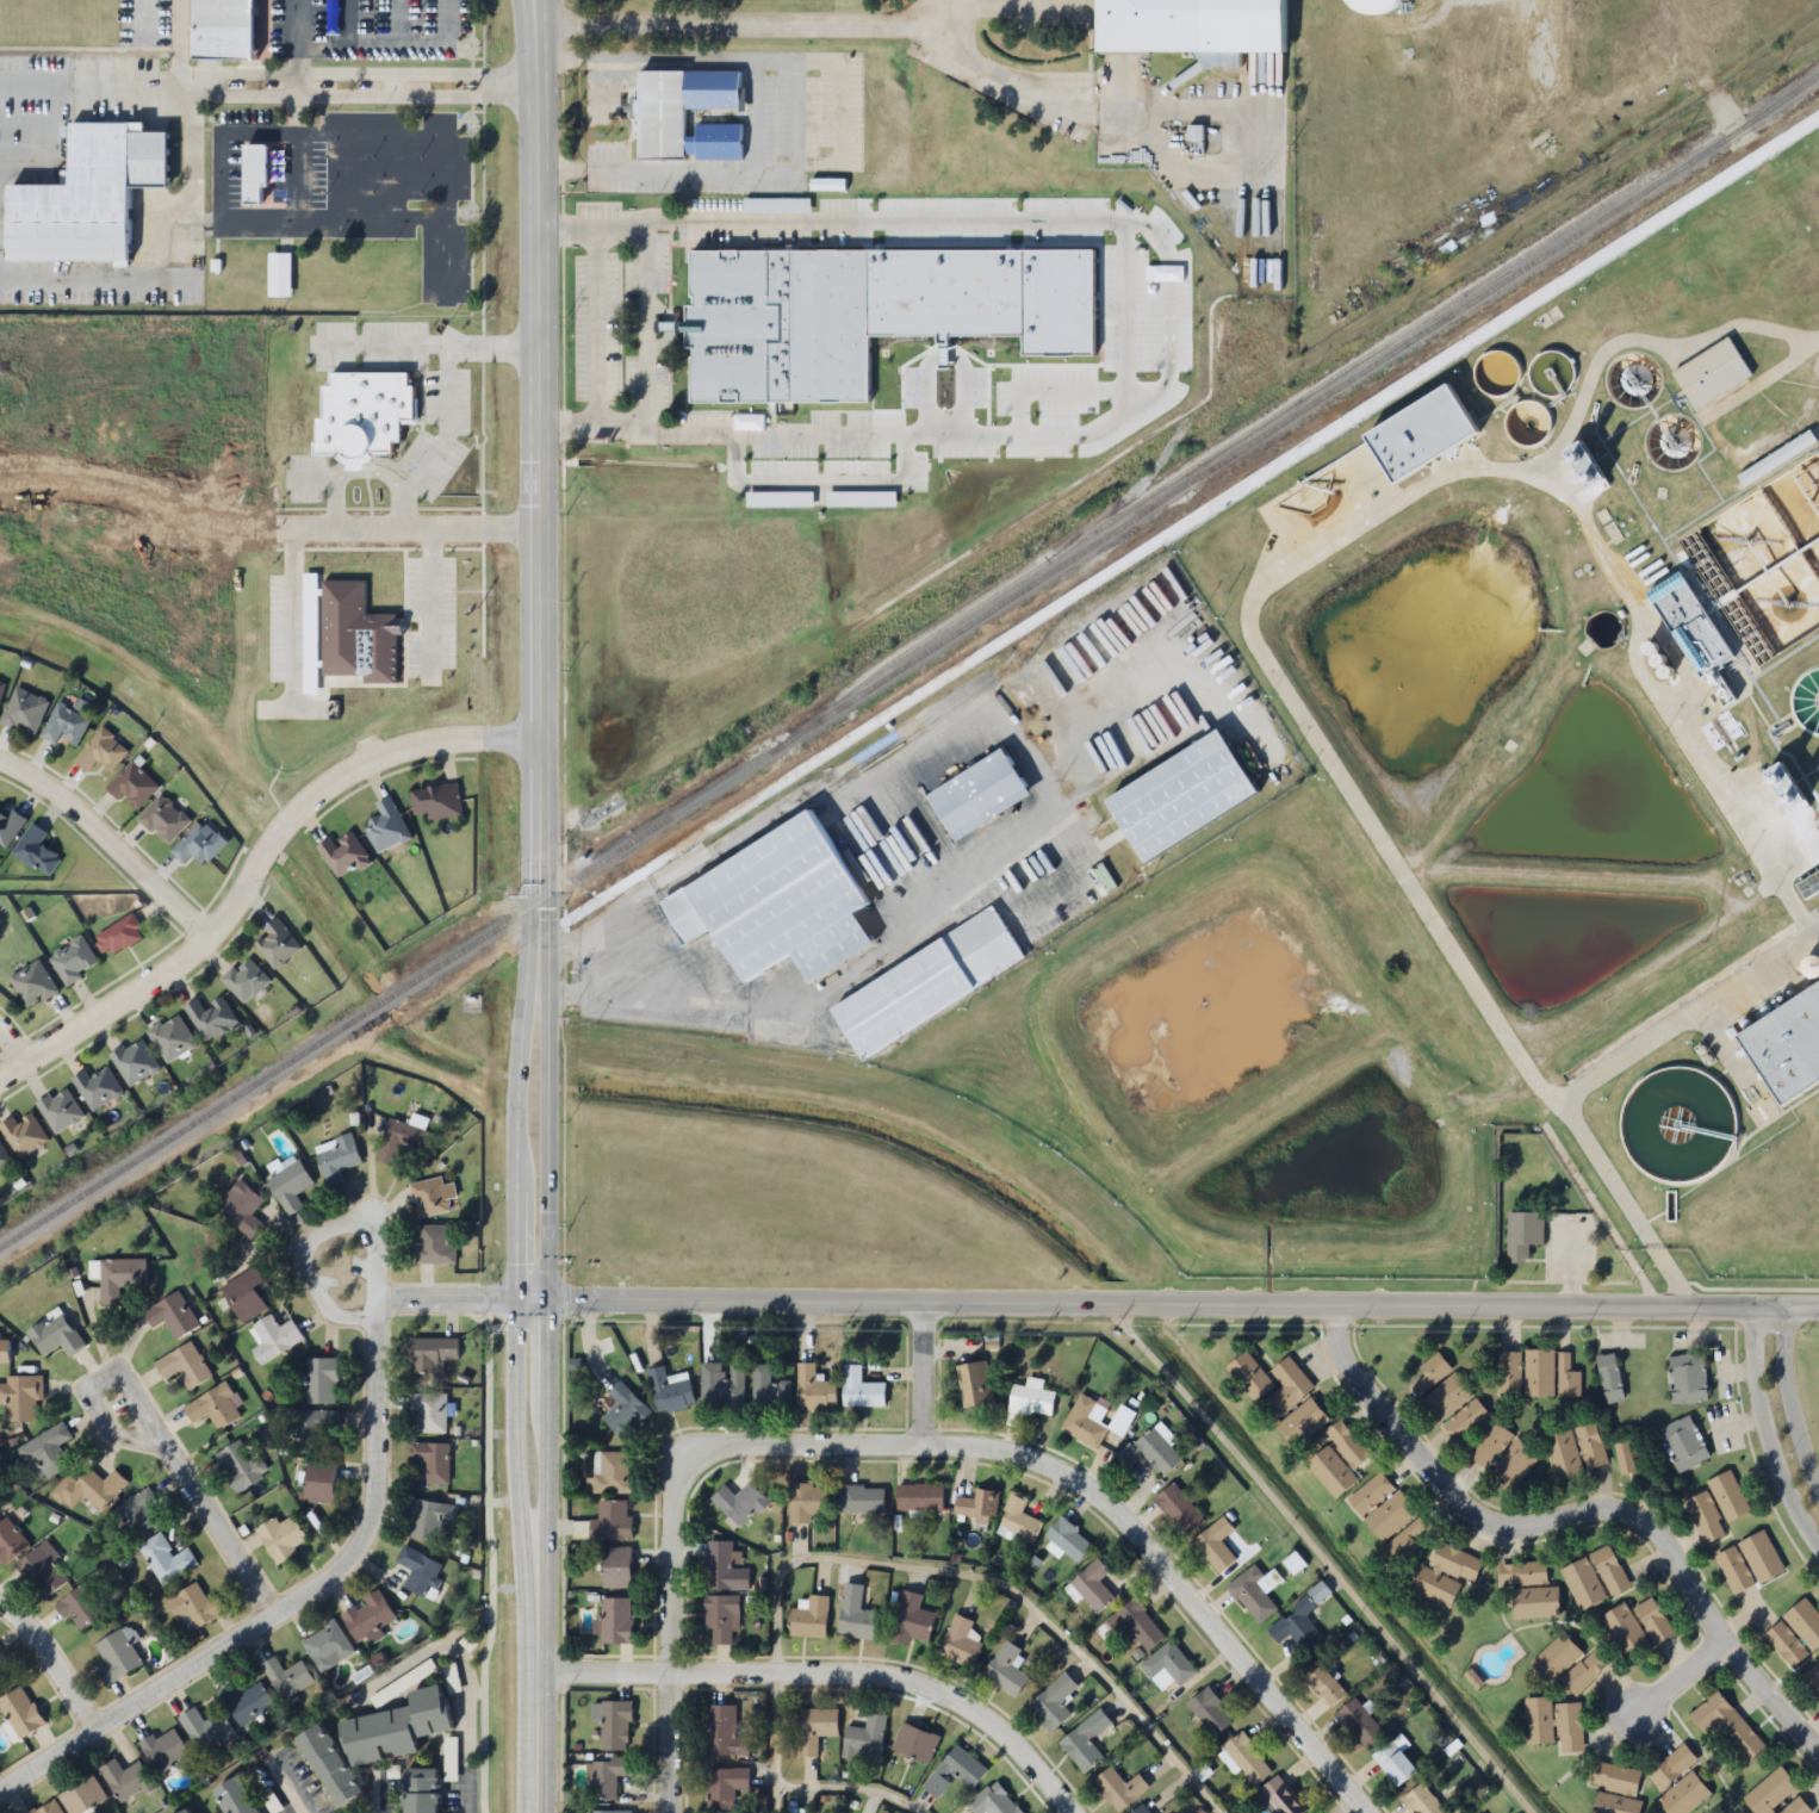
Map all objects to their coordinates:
road: (528, 12)
road: (535, 12)
building: (1582, 15)
building: (1200, 19)
road: (749, 24)
road: (347, 25)
road: (395, 25)
building: (226, 29)
parking lot: (368, 29)
road: (178, 42)
road: (396, 49)
building: (1736, 55)
building: (1603, 60)
building: (1582, 62)
road: (100, 85)
road: (201, 85)
road: (393, 86)
road: (296, 108)
building: (664, 117)
road: (30, 122)
road: (285, 130)
road: (61, 151)
road: (188, 151)
building: (259, 174)
road: (350, 175)
road: (399, 175)
parking lot: (350, 186)
building: (92, 198)
road: (441, 209)
road: (0, 217)
road: (315, 218)
building: (280, 274)
road: (99, 278)
building: (732, 328)
building: (1714, 365)
building: (1433, 416)
building: (1777, 459)
building: (1582, 466)
road: (263, 526)
building: (1689, 627)
building: (346, 638)
railway: (911, 663)
building: (1, 681)
building: (1, 689)
building: (25, 702)
building: (67, 718)
building: (101, 744)
building: (134, 777)
building: (1780, 788)
building: (439, 791)
building: (981, 794)
building: (1187, 797)
wastewater plant: (1491, 802)
building: (163, 811)
building: (10, 818)
building: (389, 819)
building: (199, 837)
road: (106, 840)
building: (37, 843)
building: (347, 844)
road: (252, 865)
building: (1809, 890)
building: (781, 905)
road: (539, 918)
building: (120, 926)
building: (279, 936)
building: (74, 954)
building: (244, 971)
building: (33, 976)
building: (930, 983)
building: (213, 1008)
building: (170, 1030)
building: (1790, 1032)
road: (14, 1044)
building: (136, 1055)
building: (99, 1079)
building: (60, 1104)
building: (26, 1125)
building: (403, 1138)
building: (6, 1150)
building: (337, 1159)
building: (291, 1186)
building: (433, 1197)
building: (243, 1210)
building: (1525, 1225)
road: (313, 1238)
building: (435, 1244)
building: (120, 1278)
building: (247, 1294)
road: (453, 1298)
traffic signals: (529, 1300)
road: (1141, 1306)
road: (1786, 1314)
building: (173, 1315)
building: (56, 1335)
building: (274, 1339)
building: (6, 1351)
building: (433, 1353)
building: (186, 1366)
road: (924, 1373)
building: (1509, 1373)
building: (1539, 1373)
building: (1432, 1374)
building: (1250, 1377)
building: (1567, 1377)
building: (1609, 1378)
building: (1687, 1379)
building: (322, 1380)
building: (722, 1385)
building: (974, 1385)
building: (1289, 1387)
building: (813, 1389)
building: (861, 1389)
building: (670, 1390)
building: (769, 1390)
building: (23, 1397)
building: (1446, 1398)
road: (157, 1399)
building: (1030, 1401)
road: (1792, 1401)
building: (215, 1409)
building: (429, 1411)
building: (625, 1411)
road: (104, 1412)
building: (1465, 1421)
building: (1086, 1422)
building: (1303, 1424)
building: (313, 1429)
road: (1767, 1434)
building: (1347, 1445)
building: (1683, 1445)
building: (1491, 1446)
building: (1591, 1446)
building: (48, 1451)
building: (1149, 1453)
building: (1563, 1457)
building: (1625, 1458)
building: (433, 1461)
building: (241, 1465)
building: (1515, 1466)
building: (1331, 1472)
building: (610, 1474)
building: (322, 1482)
building: (91, 1489)
building: (1371, 1496)
building: (1728, 1496)
building: (919, 1497)
building: (0, 1498)
building: (861, 1500)
building: (807, 1502)
building: (740, 1503)
building: (977, 1508)
building: (1179, 1509)
building: (141, 1514)
road: (1575, 1514)
road: (672, 1515)
building: (1705, 1519)
building: (434, 1520)
building: (614, 1521)
building: (1018, 1522)
building: (1397, 1527)
road: (223, 1528)
building: (284, 1538)
building: (1068, 1540)
building: (11, 1541)
building: (1215, 1546)
building: (1761, 1557)
building: (167, 1559)
road: (1321, 1559)
building: (1295, 1564)
building: (616, 1567)
road: (927, 1567)
building: (724, 1569)
building: (418, 1570)
building: (1734, 1570)
building: (44, 1571)
building: (1609, 1571)
building: (1446, 1573)
building: (1522, 1573)
road: (1169, 1584)
building: (1583, 1584)
building: (1093, 1587)
building: (1255, 1594)
road: (287, 1602)
building: (1535, 1603)
building: (195, 1606)
building: (81, 1608)
building: (856, 1615)
building: (809, 1619)
building: (721, 1620)
building: (911, 1620)
building: (371, 1621)
building: (615, 1622)
building: (1655, 1622)
building: (1805, 1623)
building: (1135, 1627)
building: (1296, 1627)
building: (1624, 1629)
building: (960, 1643)
building: (1786, 1645)
building: (328, 1646)
building: (118, 1657)
road: (461, 1658)
building: (1556, 1659)
building: (1167, 1668)
road: (49, 1669)
building: (1006, 1670)
building: (1584, 1672)
building: (288, 1677)
road: (1680, 1677)
building: (1813, 1679)
road: (825, 1681)
building: (1326, 1685)
building: (247, 1702)
building: (1053, 1703)
building: (21, 1713)
building: (401, 1713)
building: (1210, 1713)
building: (1539, 1721)
building: (1358, 1722)
building: (1727, 1726)
building: (615, 1727)
building: (207, 1728)
building: (1569, 1728)
building: (815, 1730)
building: (724, 1733)
building: (864, 1740)
building: (1085, 1743)
building: (915, 1744)
building: (166, 1750)
building: (333, 1753)
building: (1247, 1762)
building: (1395, 1762)
building: (1672, 1768)
building: (955, 1772)
building: (607, 1777)
building: (126, 1780)
road: (281, 1781)
building: (423, 1787)
building: (725, 1787)
building: (1119, 1789)
building: (1615, 1789)
building: (244, 1792)
building: (1771, 1793)
building: (83, 1796)
building: (1684, 1796)
building: (1280, 1798)
road: (371, 1801)
building: (993, 1801)
building: (1422, 1801)
building: (188, 1806)
building: (1796, 1807)
building: (49, 1808)
building: (1141, 1809)
building: (610, 1812)

